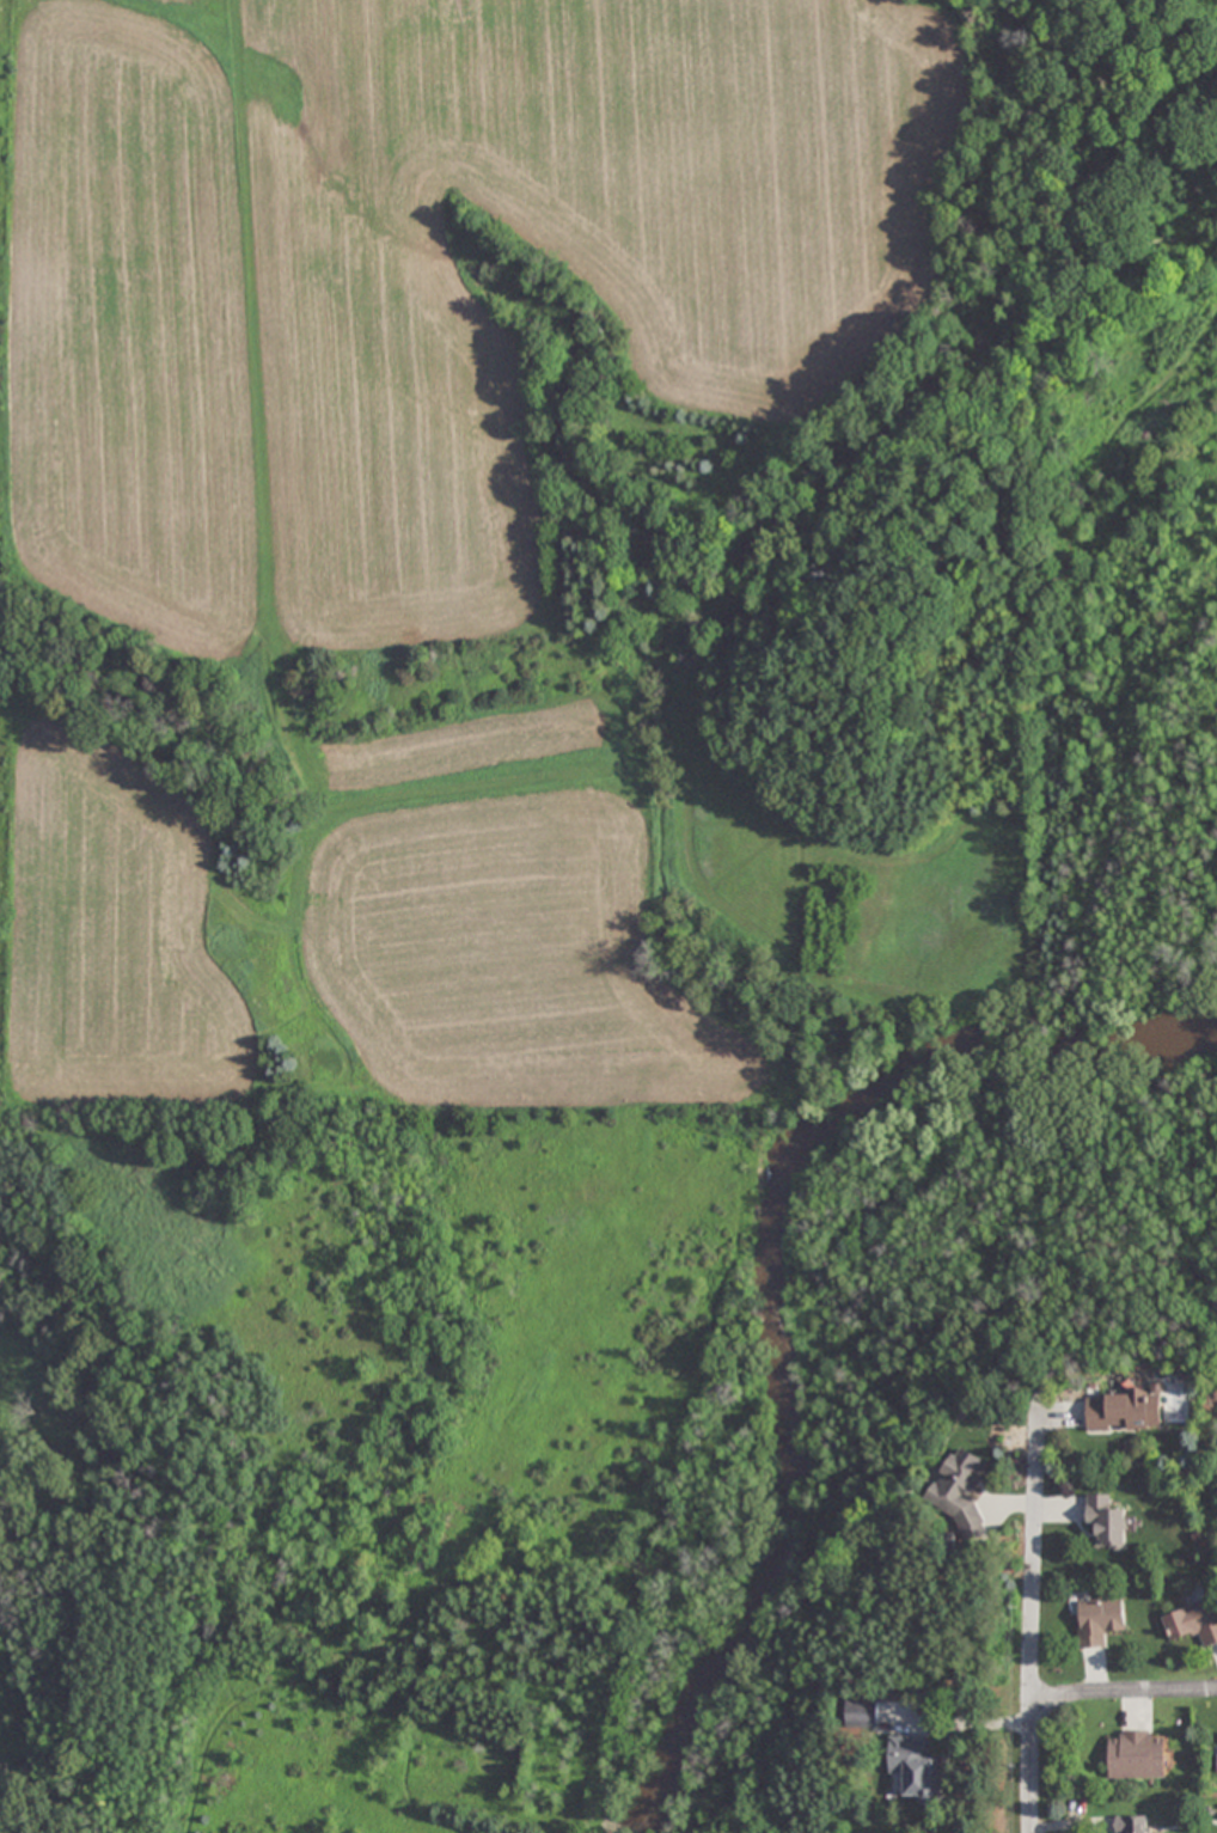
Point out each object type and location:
crop: (525, 557)
park: (1127, 679)
river: (770, 1273)
building: (1123, 1413)
building: (962, 1491)
building: (1107, 1523)
building: (1100, 1623)
building: (1193, 1624)
road: (1032, 1626)
road: (1124, 1692)
building: (1137, 1756)
building: (915, 1766)
river: (11, 1821)
building: (1131, 1823)

